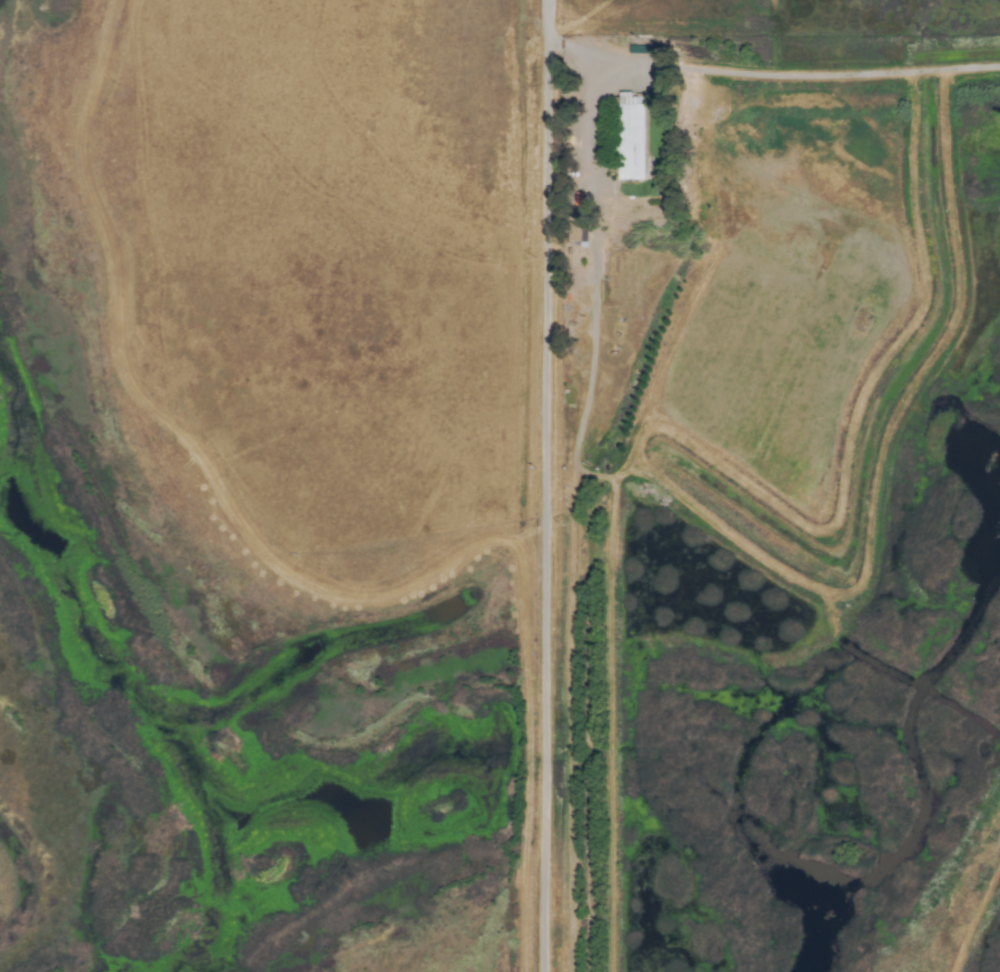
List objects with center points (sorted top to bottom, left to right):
road: (547, 12)
road: (721, 73)
building: (628, 144)
building: (624, 216)
road: (595, 261)
road: (543, 498)
road: (572, 717)

